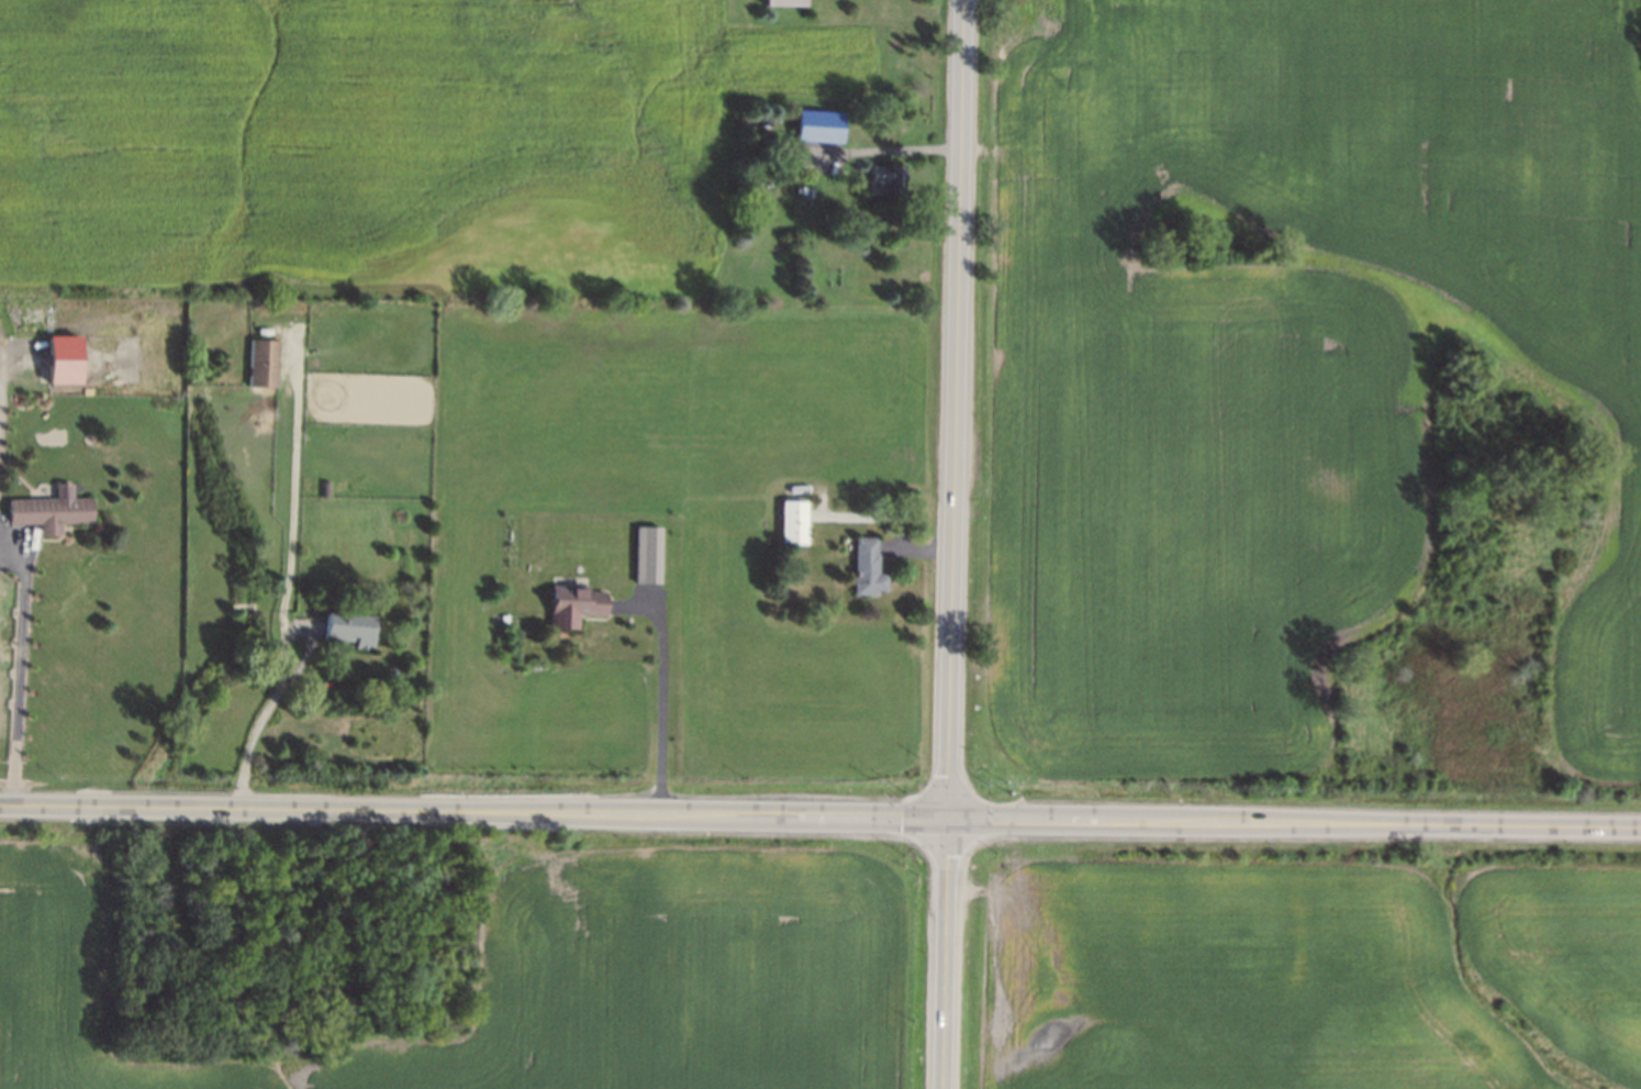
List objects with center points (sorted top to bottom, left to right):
building: (786, 2)
building: (819, 126)
crop: (400, 127)
road: (884, 148)
building: (885, 179)
building: (66, 358)
building: (265, 364)
crop: (1319, 396)
road: (959, 410)
building: (52, 511)
road: (901, 519)
building: (793, 522)
building: (648, 556)
building: (867, 568)
road: (291, 576)
building: (574, 607)
building: (351, 630)
road: (22, 681)
road: (662, 687)
road: (819, 819)
traffic signals: (951, 821)
road: (949, 955)
crop: (1570, 957)
crop: (1240, 979)
crop: (682, 980)
crop: (74, 988)

